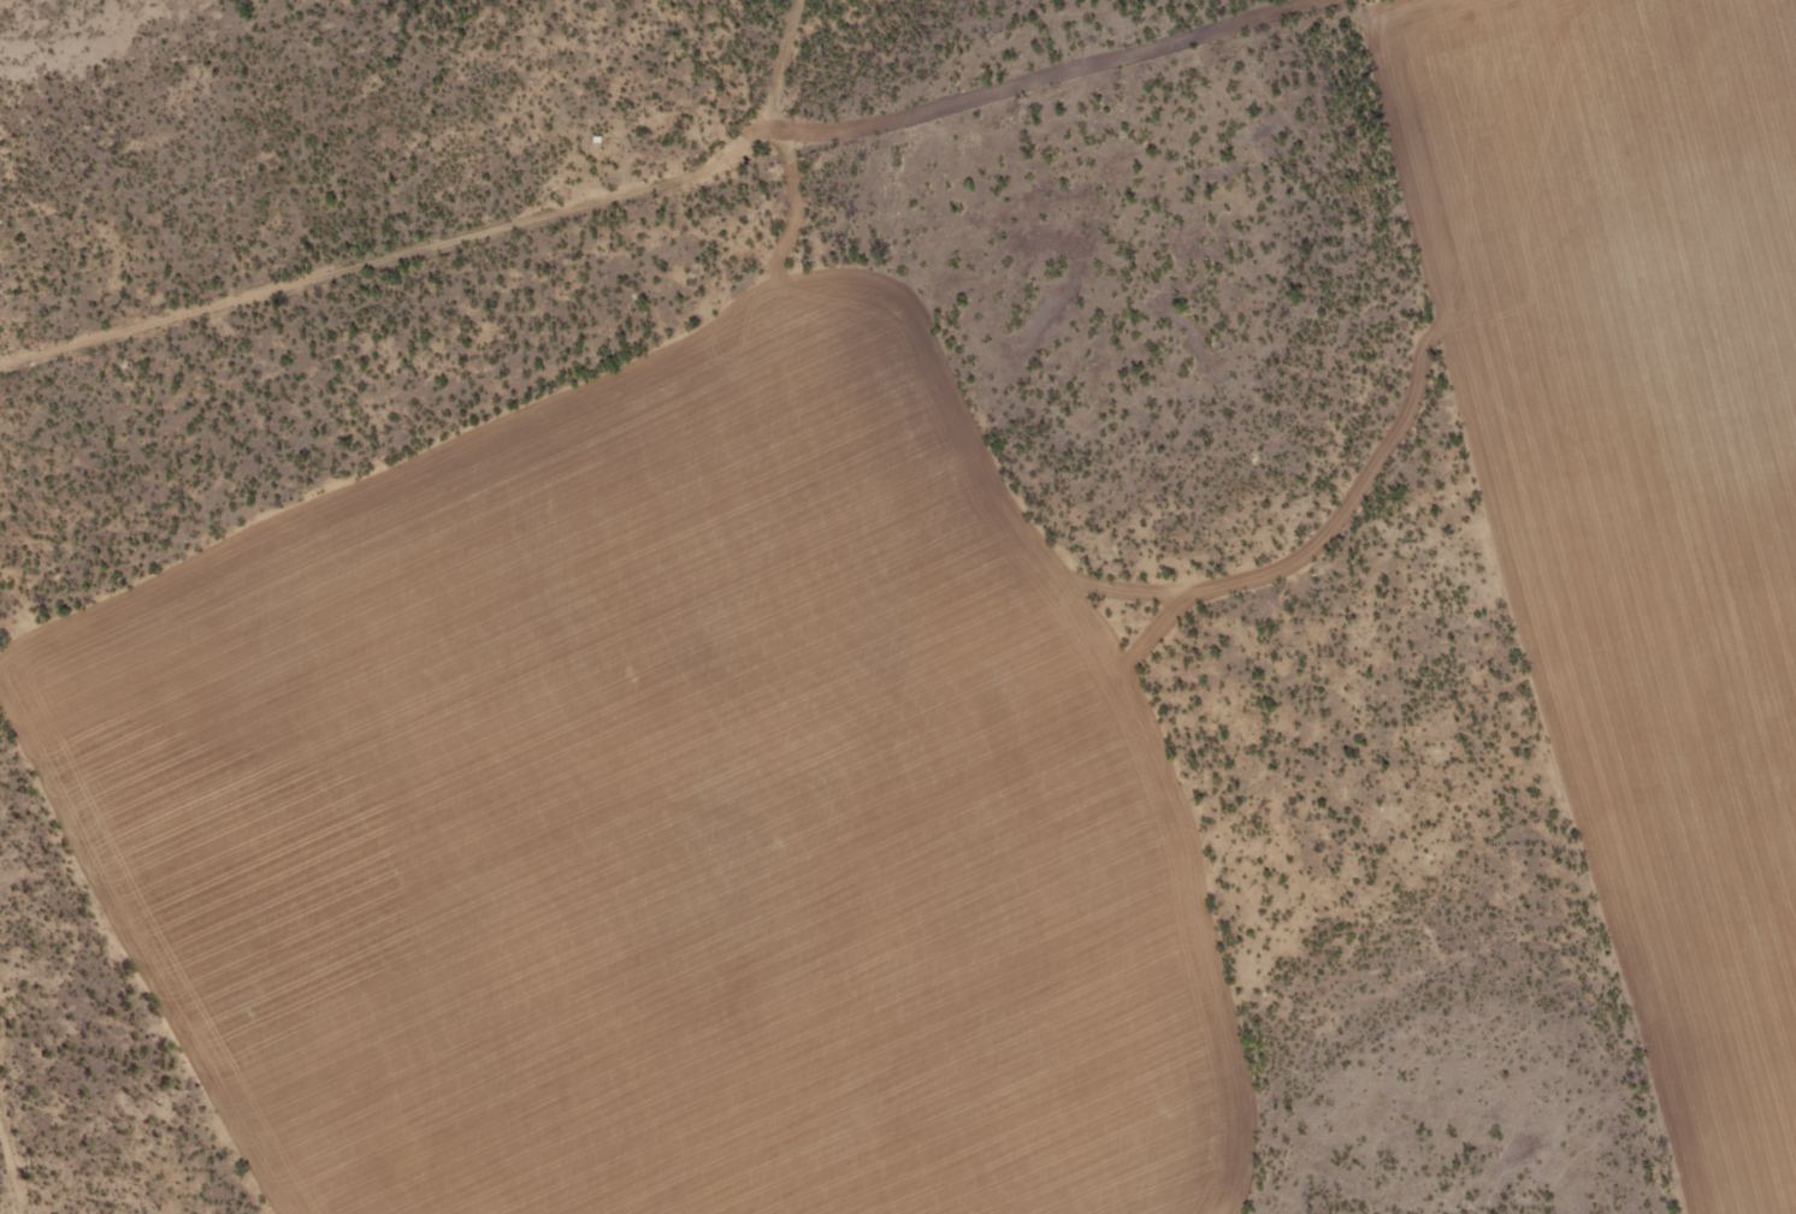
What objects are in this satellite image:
road: (36, 1065)

